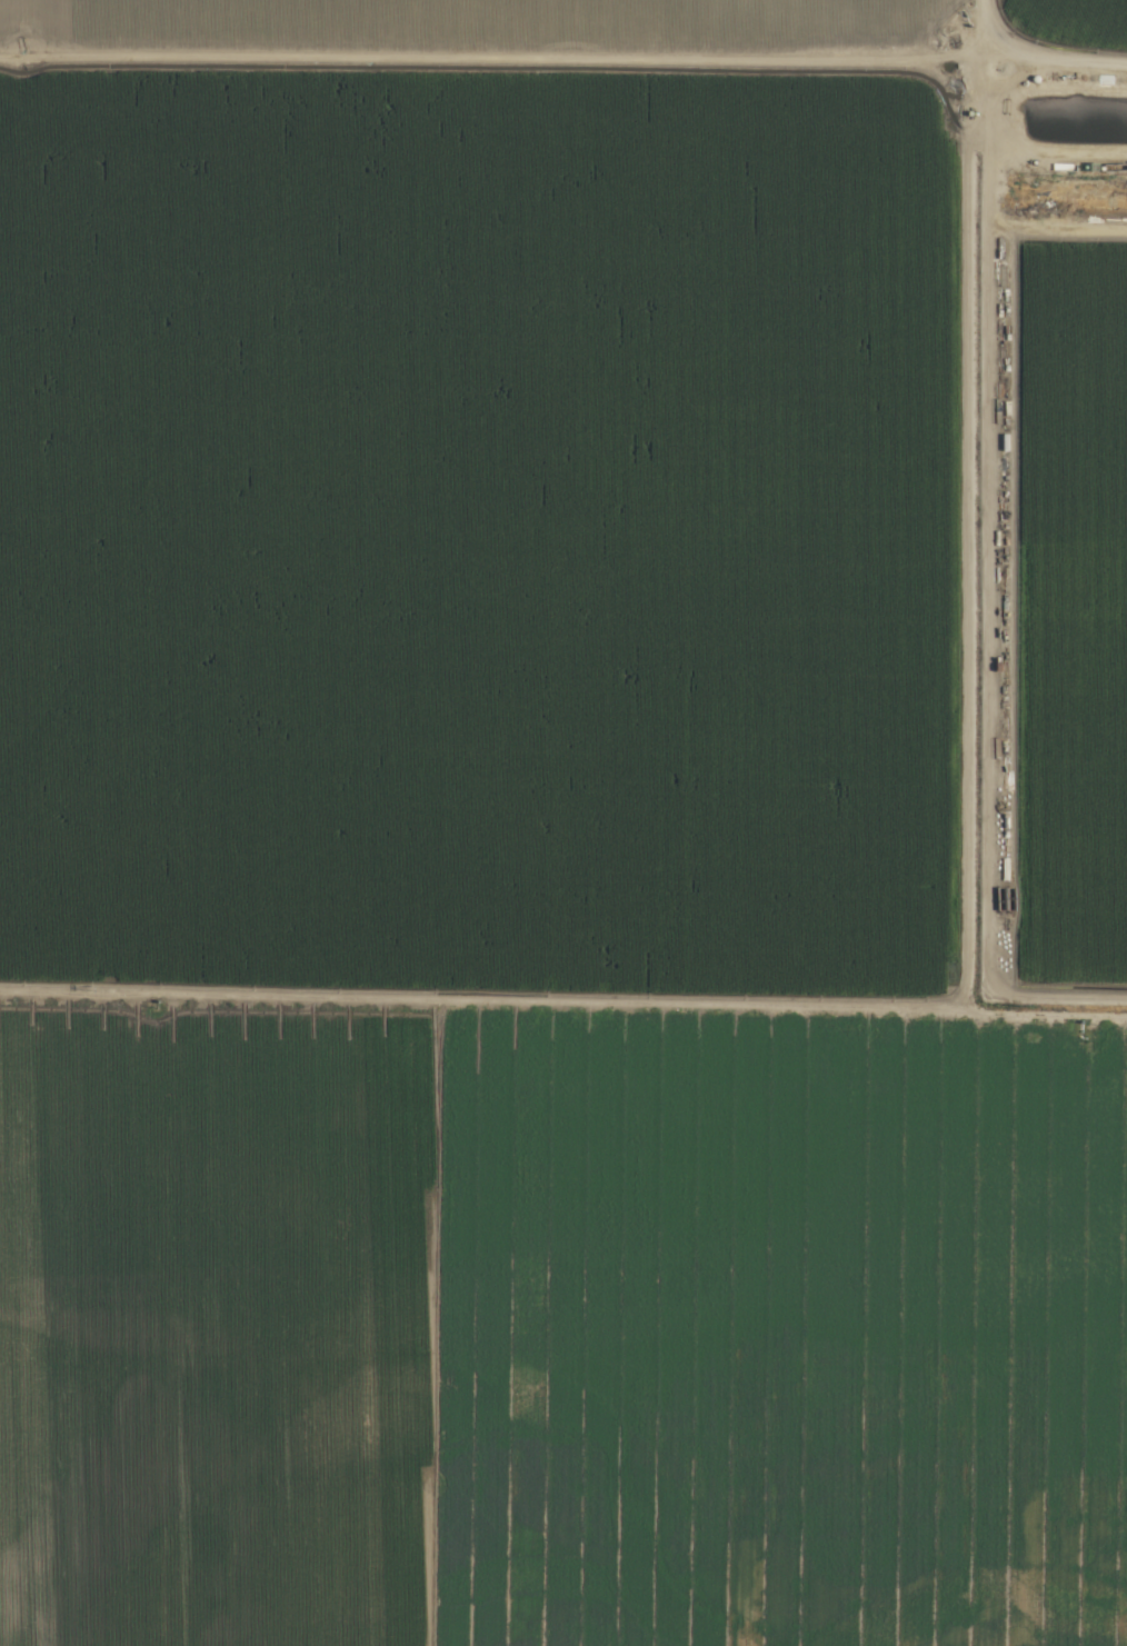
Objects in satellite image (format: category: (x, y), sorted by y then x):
road: (1029, 52)

